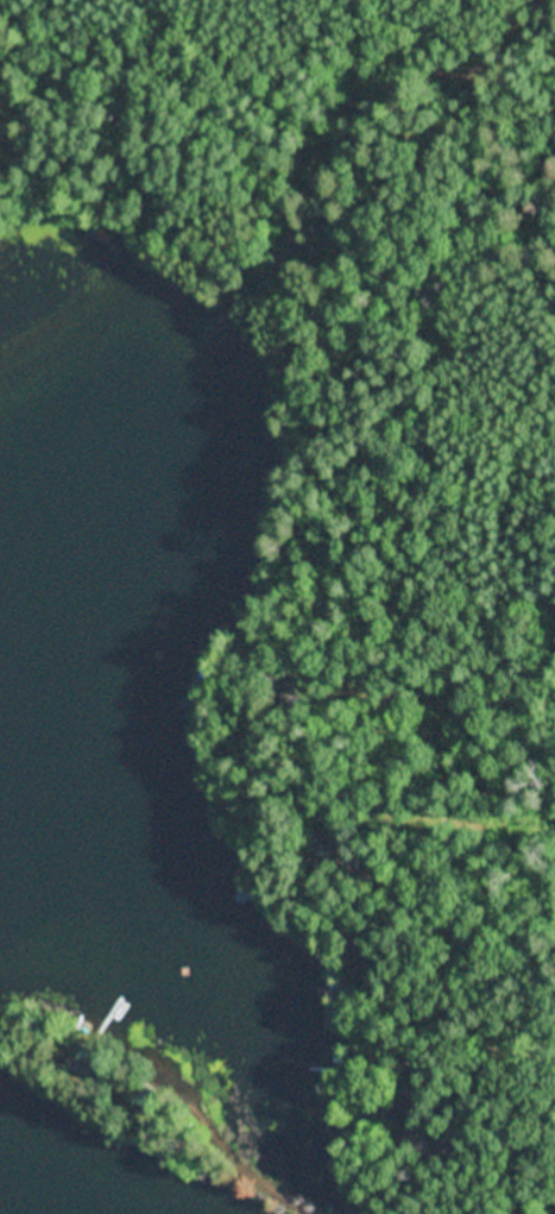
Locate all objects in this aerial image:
road: (395, 642)
road: (405, 724)
road: (418, 834)
building: (197, 900)
building: (87, 1056)
road: (447, 1057)
building: (404, 1119)

